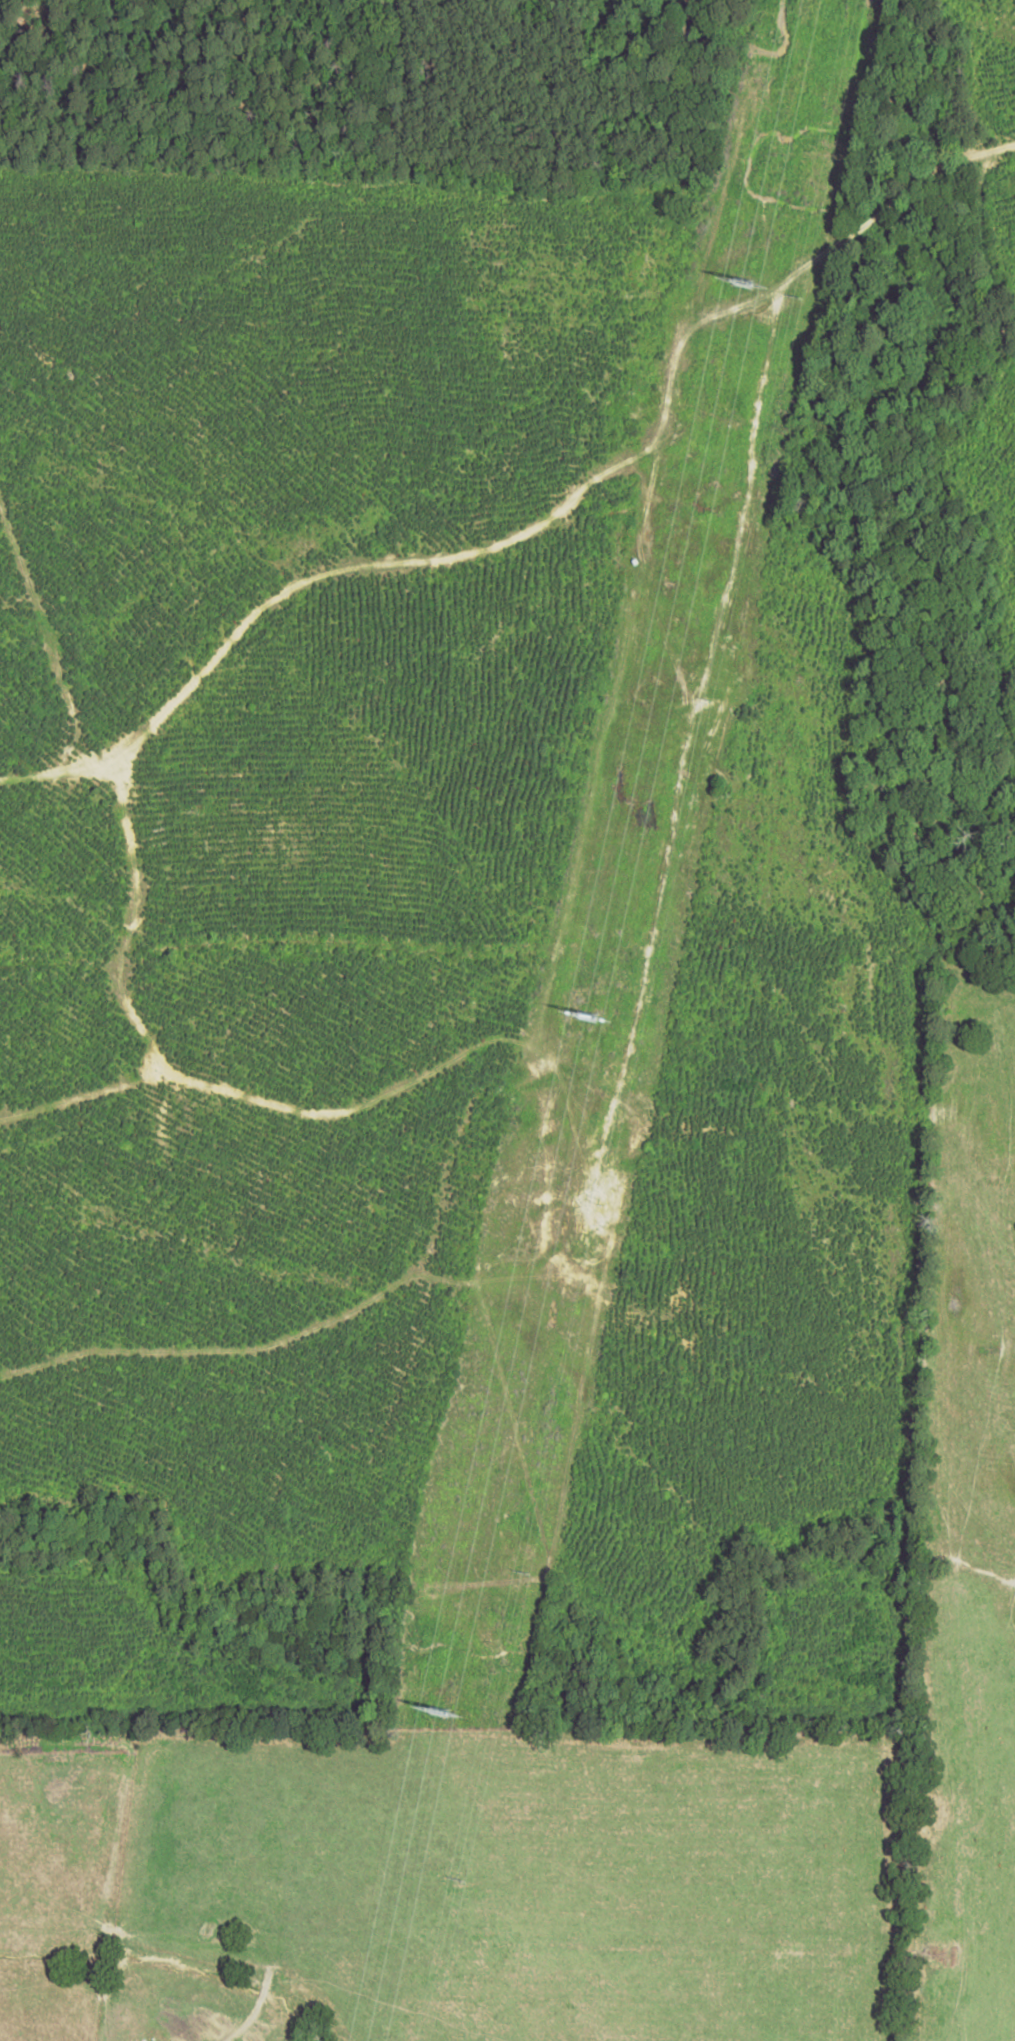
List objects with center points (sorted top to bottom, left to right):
power tower: (732, 288)
power tower: (573, 1015)
power tower: (421, 1713)

